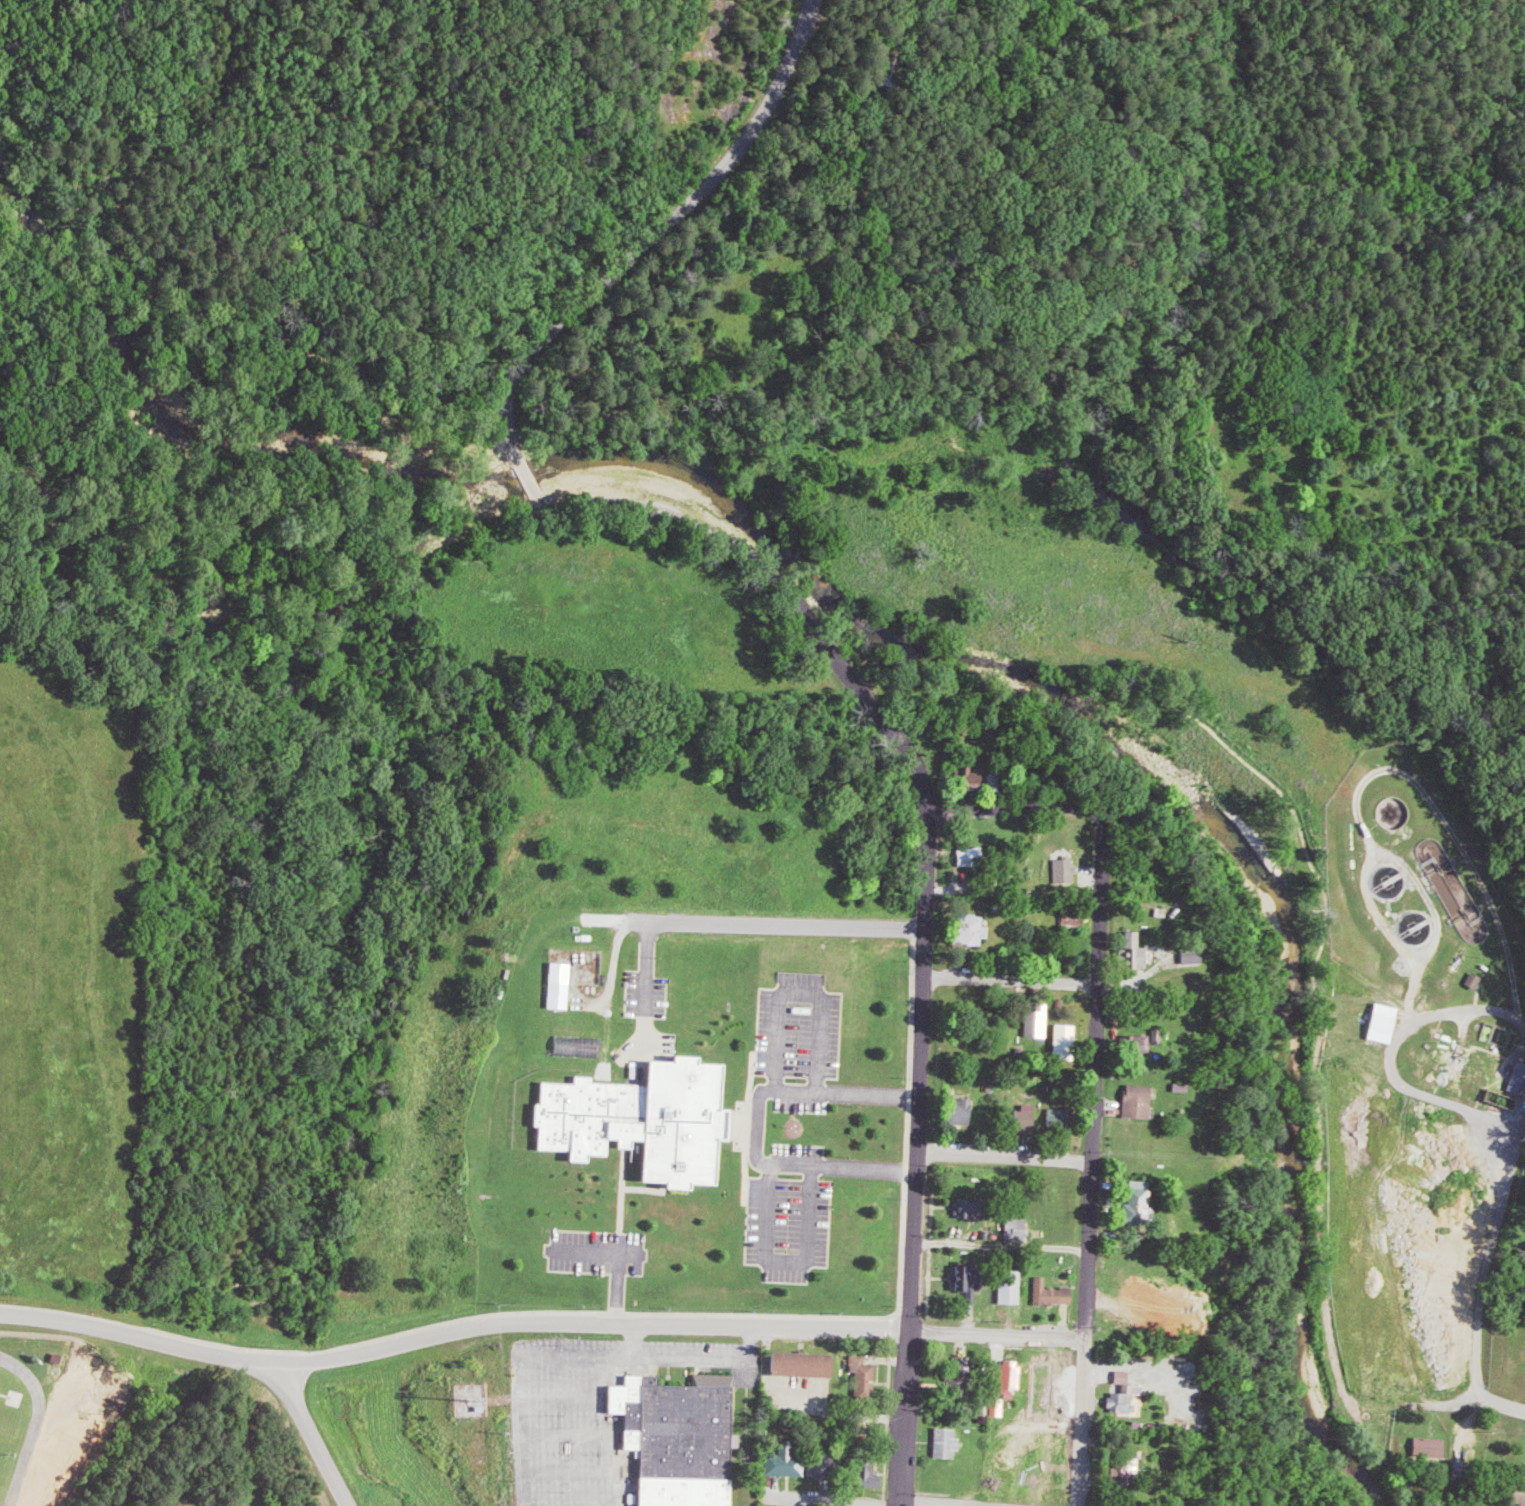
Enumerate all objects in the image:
road: (536, 345)
road: (902, 766)
building: (970, 774)
road: (1015, 811)
building: (971, 856)
building: (1067, 870)
building: (1077, 916)
road: (776, 923)
building: (972, 929)
road: (651, 946)
building: (1135, 950)
building: (1193, 954)
road: (1009, 980)
building: (1475, 980)
building: (560, 984)
road: (801, 993)
parking lot: (647, 994)
building: (1041, 1020)
building: (1384, 1022)
parking lot: (798, 1027)
building: (1068, 1041)
building: (1140, 1043)
building: (579, 1045)
road: (920, 1063)
building: (1520, 1078)
building: (1138, 1100)
parking lot: (802, 1104)
building: (958, 1109)
road: (1484, 1112)
building: (1060, 1116)
building: (633, 1118)
building: (1026, 1120)
road: (760, 1124)
parking lot: (802, 1150)
road: (1002, 1157)
road: (1088, 1162)
building: (1140, 1196)
building: (968, 1206)
parking lot: (792, 1226)
building: (1018, 1227)
road: (939, 1243)
parking lot: (600, 1252)
road: (790, 1262)
building: (971, 1282)
building: (1012, 1286)
building: (1053, 1292)
road: (619, 1298)
road: (450, 1329)
road: (909, 1329)
road: (994, 1339)
road: (704, 1356)
building: (804, 1363)
building: (865, 1375)
building: (958, 1377)
building: (1011, 1378)
building: (1126, 1393)
road: (576, 1395)
road: (1497, 1401)
building: (1001, 1406)
building: (682, 1427)
road: (314, 1436)
building: (948, 1442)
building: (1430, 1446)
building: (786, 1462)
building: (816, 1468)
building: (868, 1474)
building: (679, 1491)
building: (1520, 1491)
road: (813, 1501)

